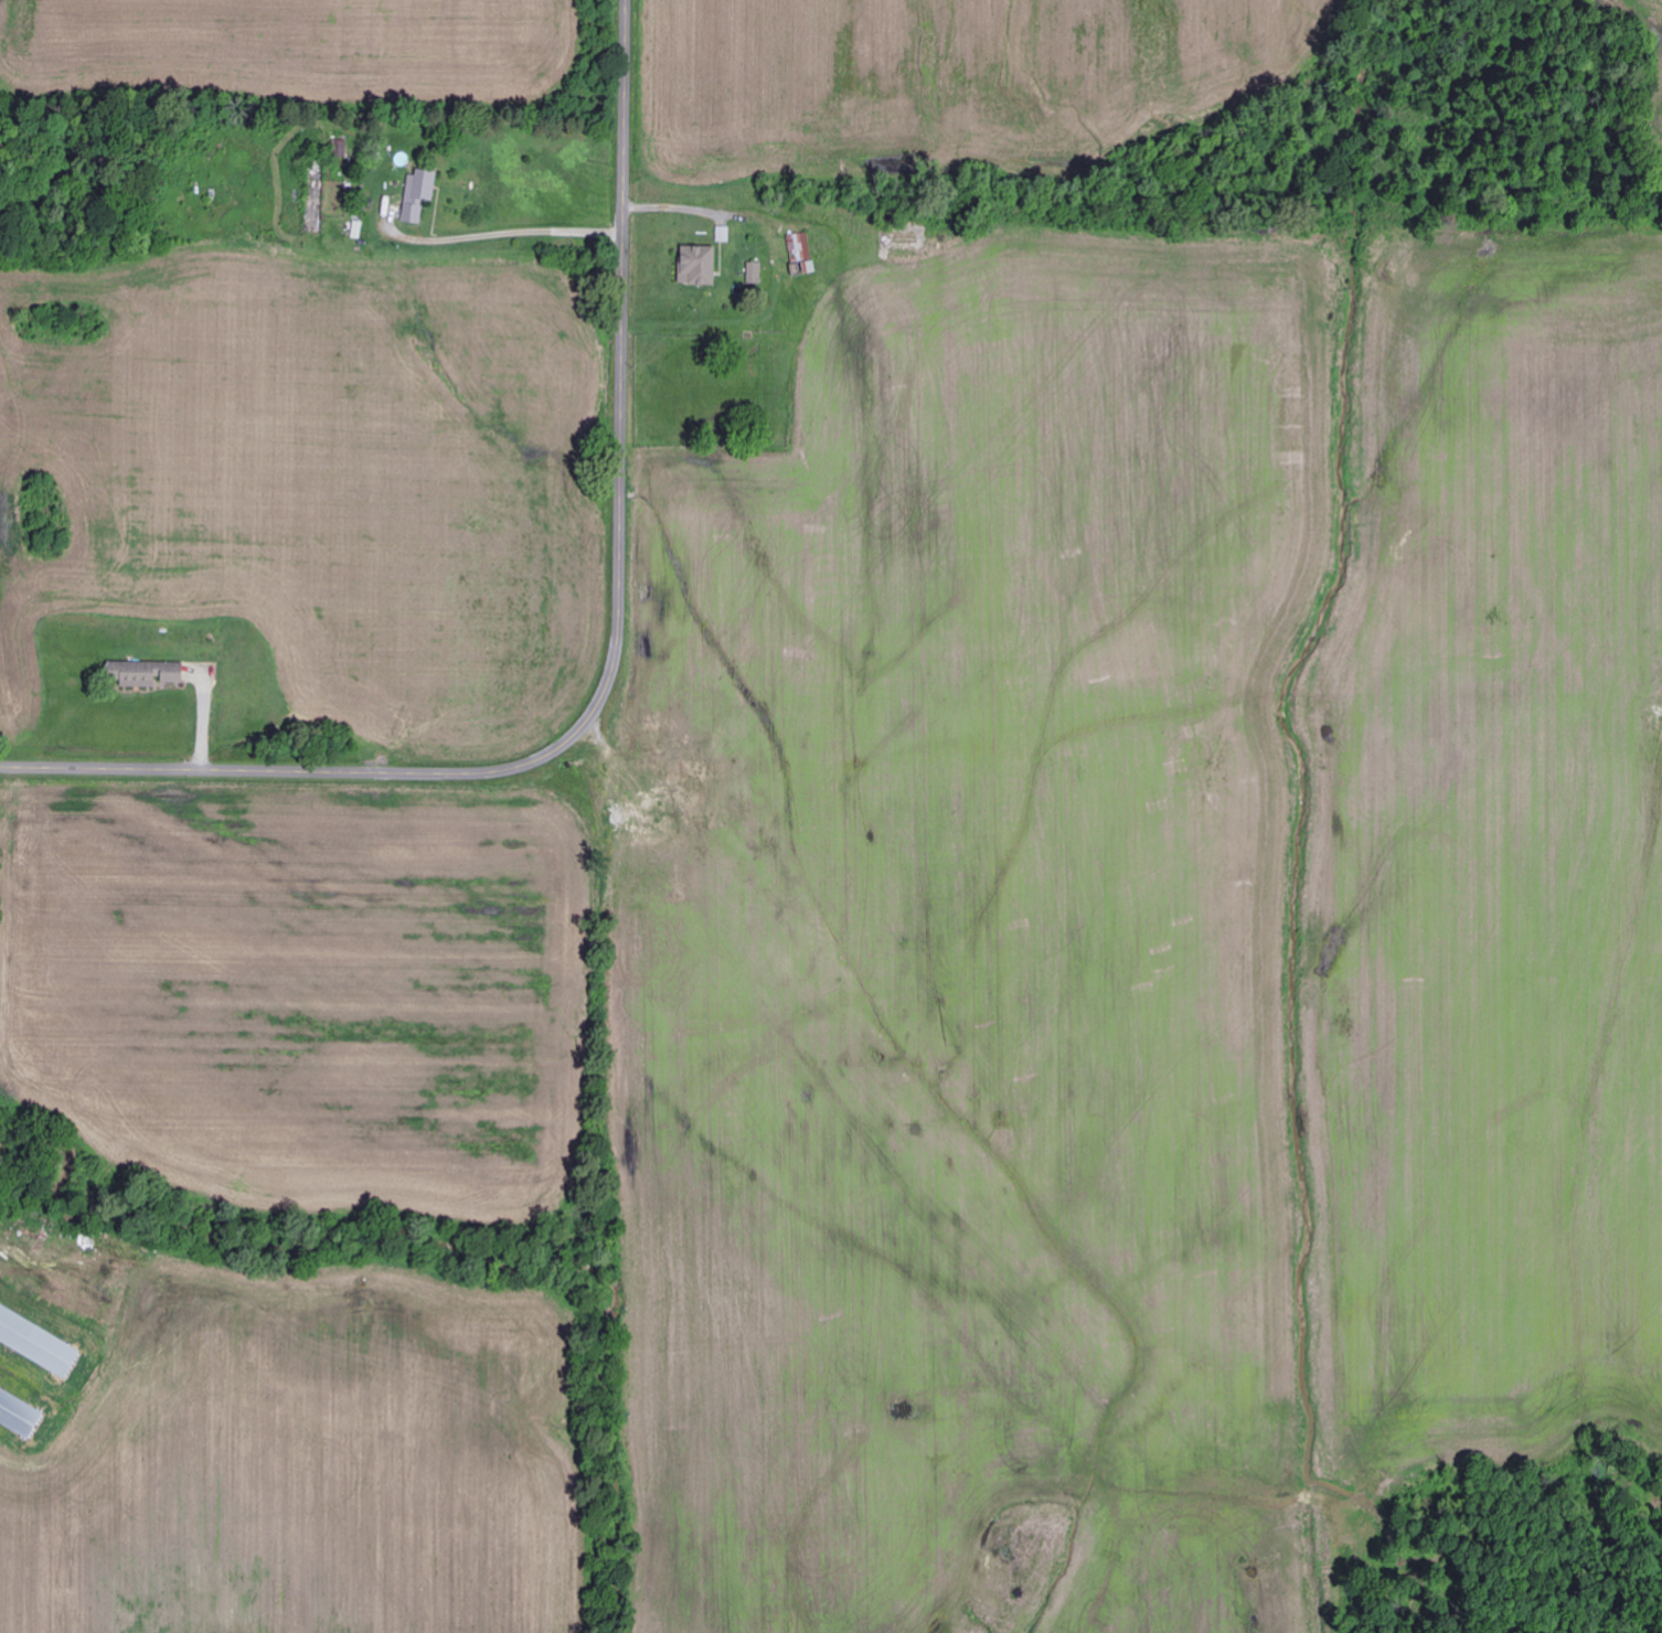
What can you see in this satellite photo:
building: (419, 194)
building: (700, 265)
building: (755, 273)
road: (615, 663)
building: (147, 674)
building: (40, 1336)
building: (20, 1410)

